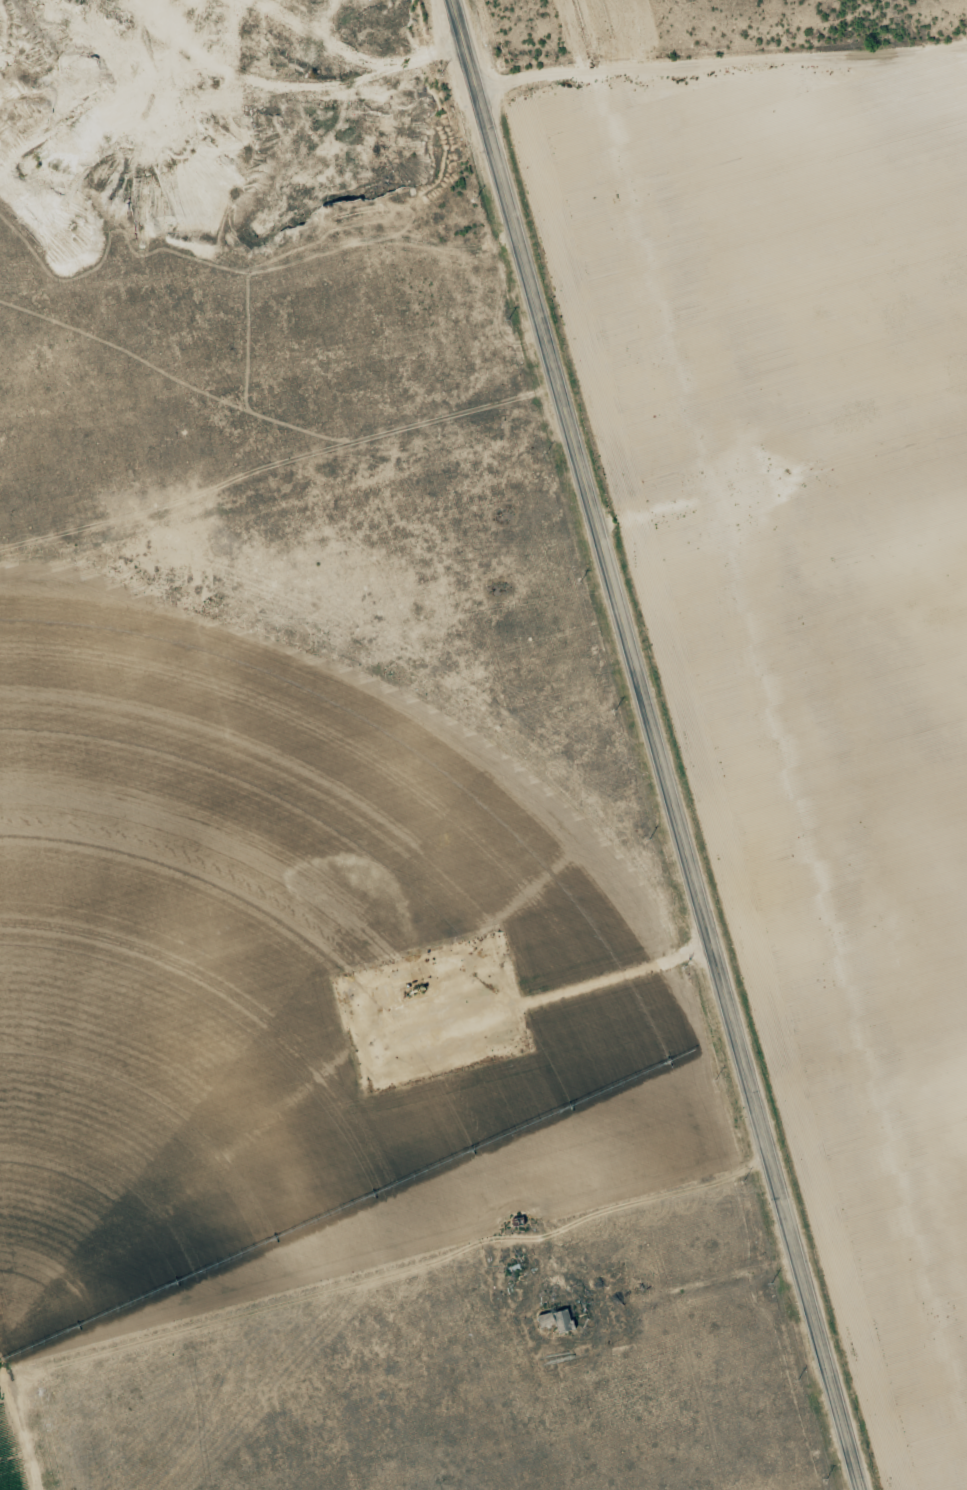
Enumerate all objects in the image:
road: (277, 464)
road: (656, 744)
petroleum well: (424, 989)

